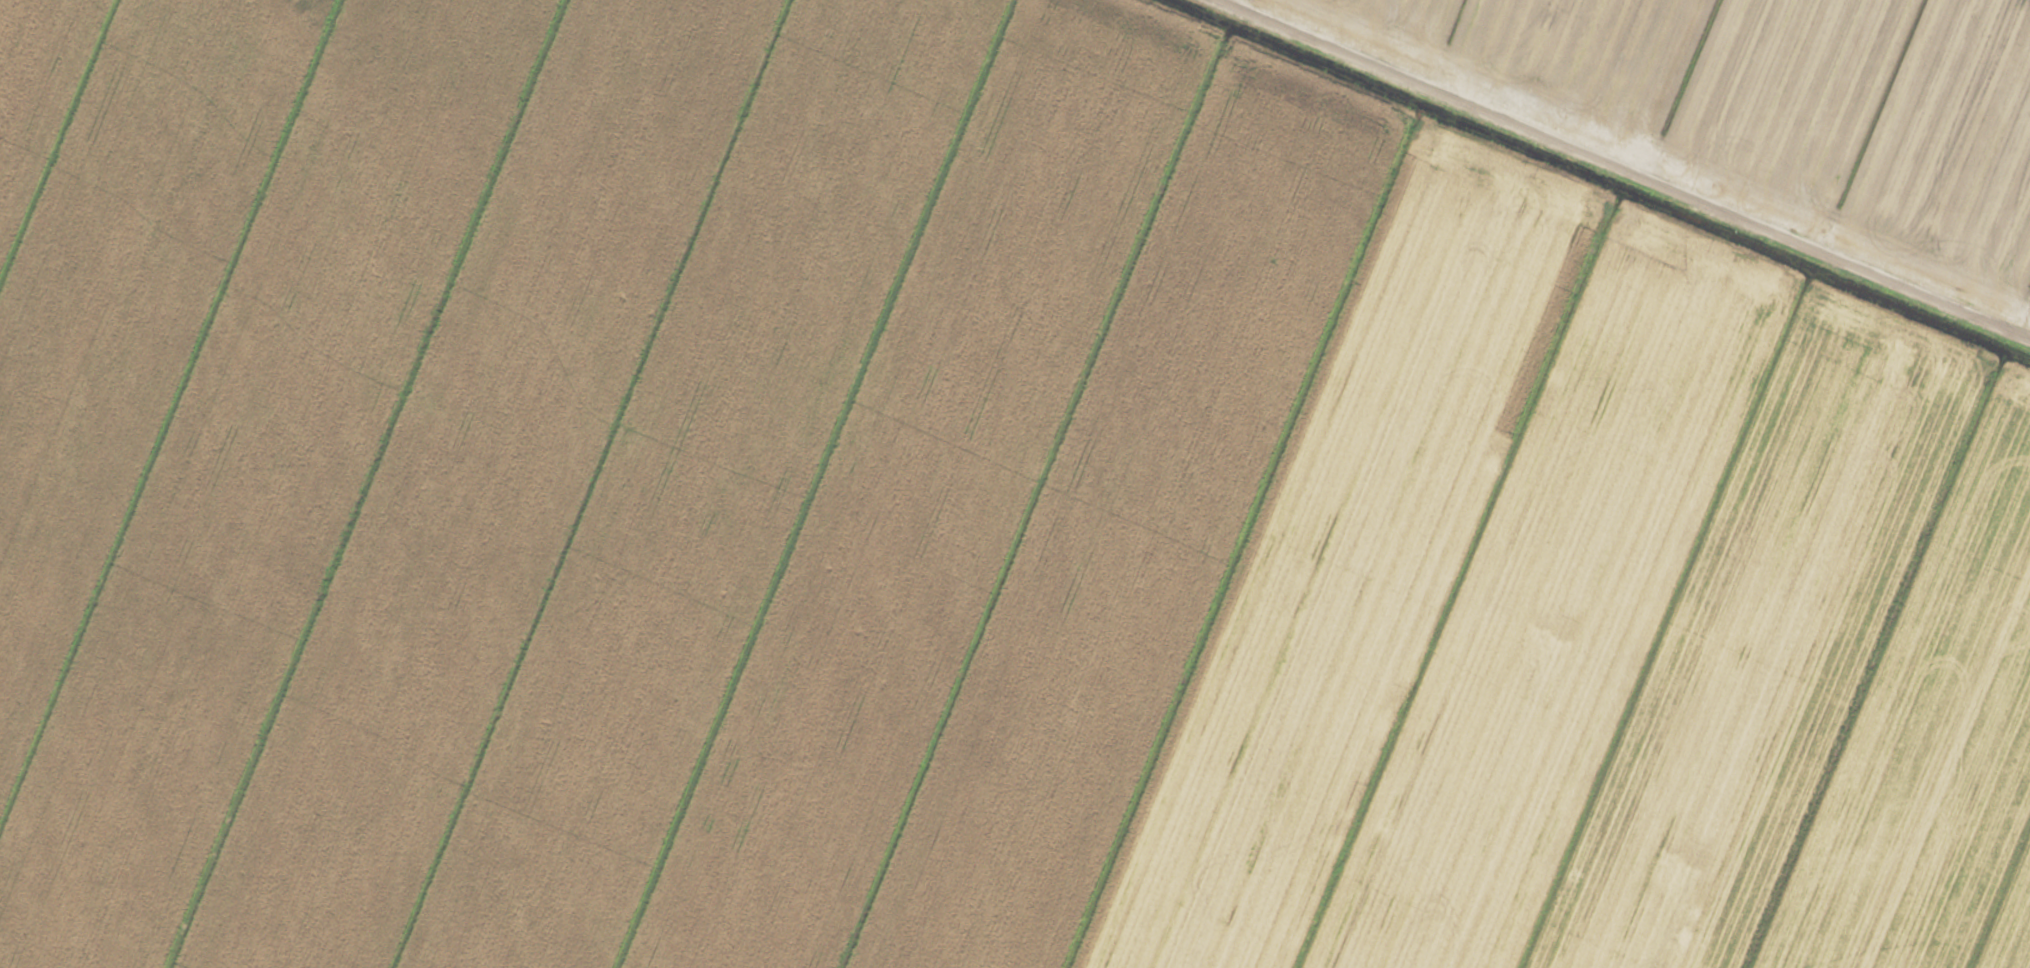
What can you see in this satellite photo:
road: (1658, 156)
crop: (1015, 484)

